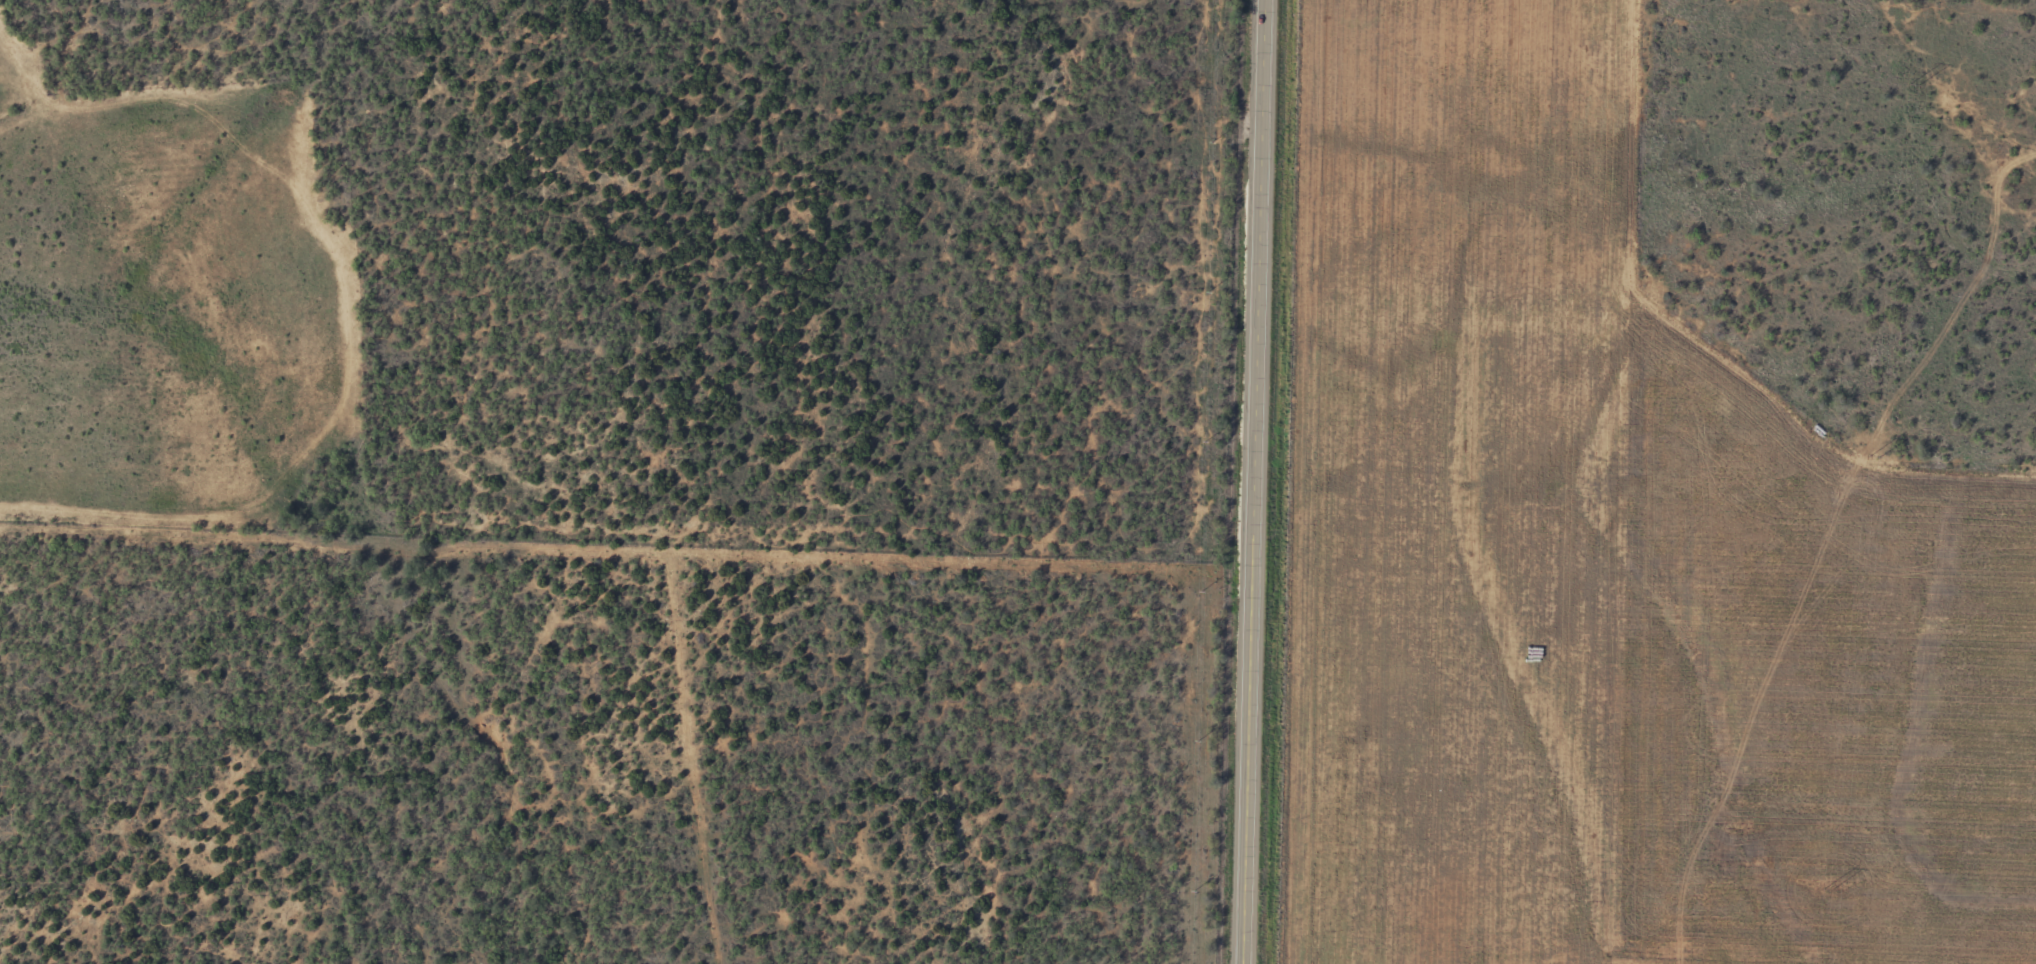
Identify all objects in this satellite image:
power tower: (1915, 86)
power tower: (1874, 456)
road: (1260, 482)
power tower: (1828, 888)

